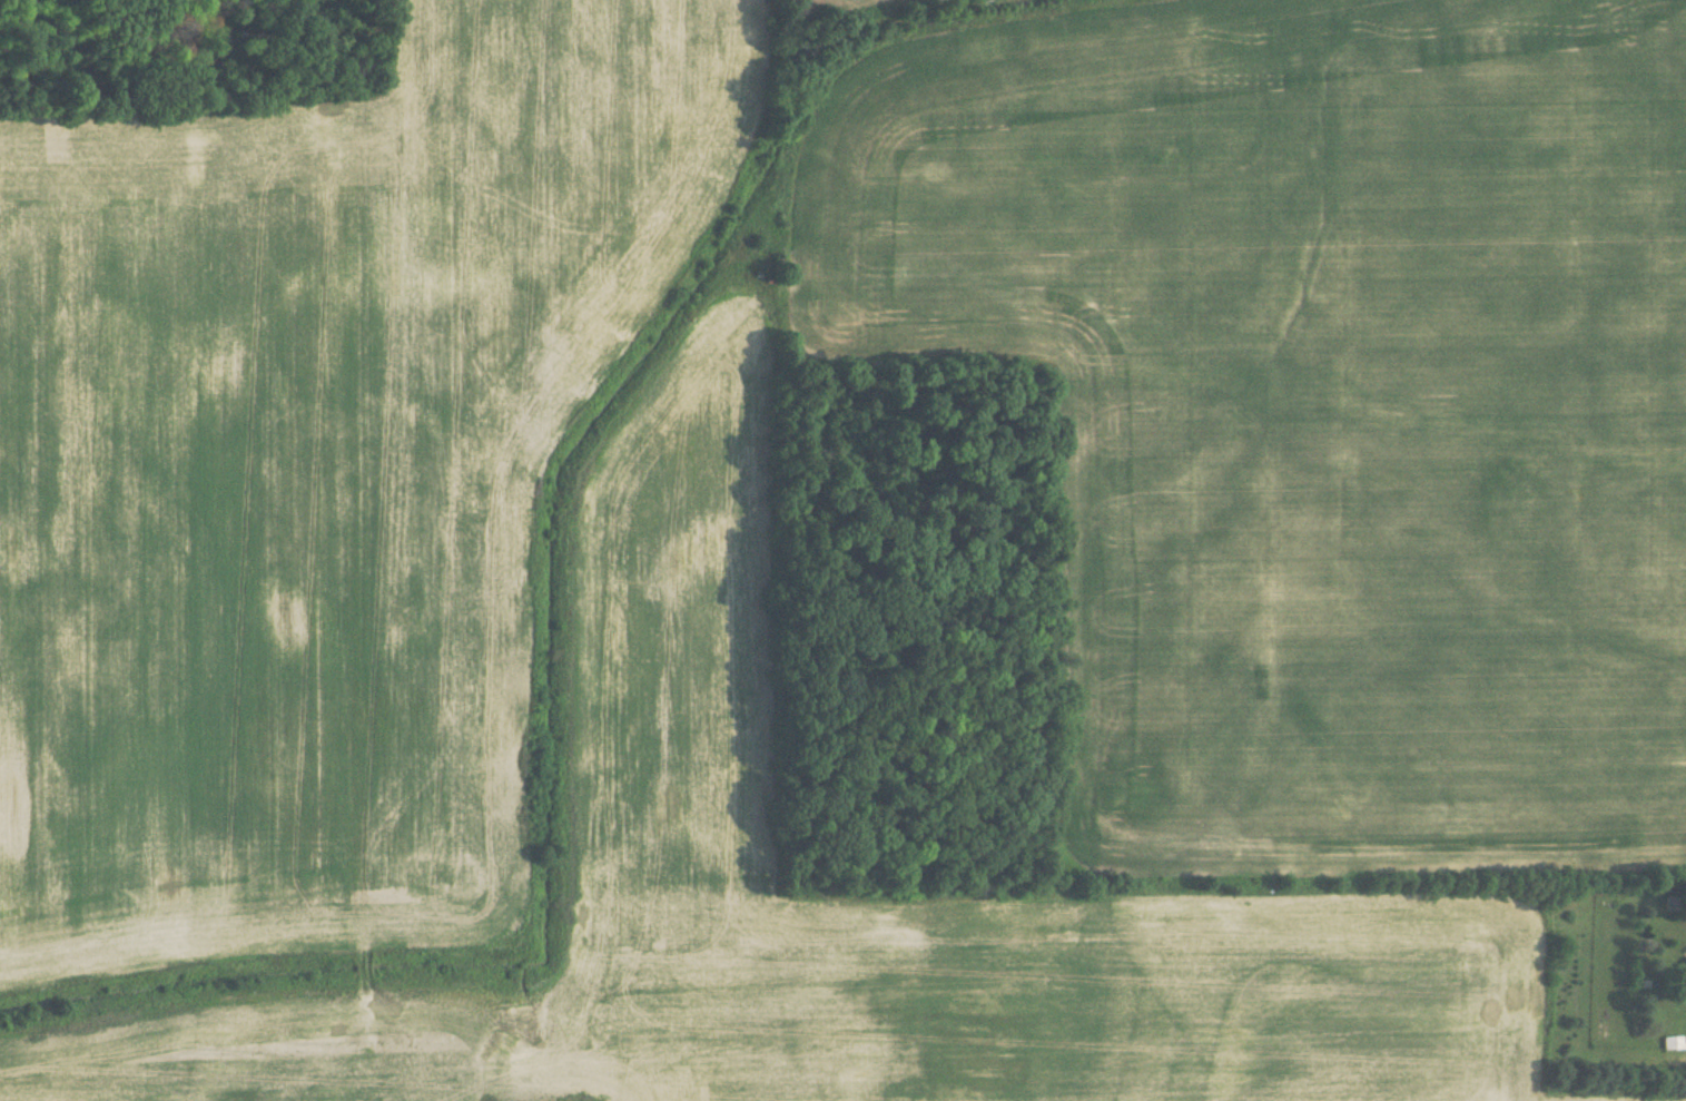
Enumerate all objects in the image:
building: (1685, 965)

